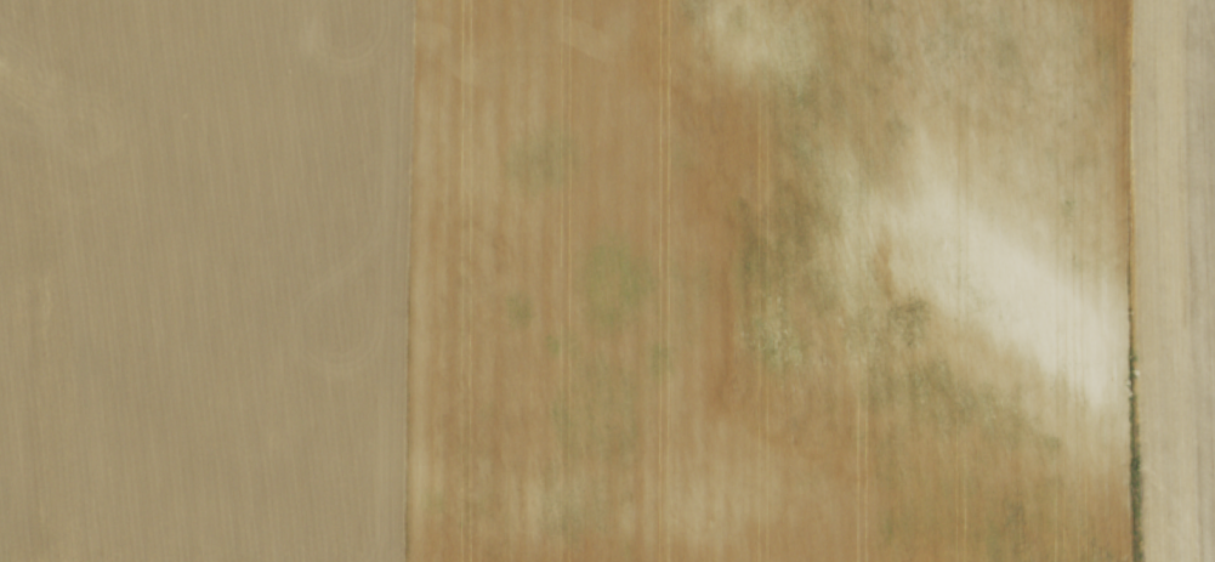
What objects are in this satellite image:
crop: (607, 280)

